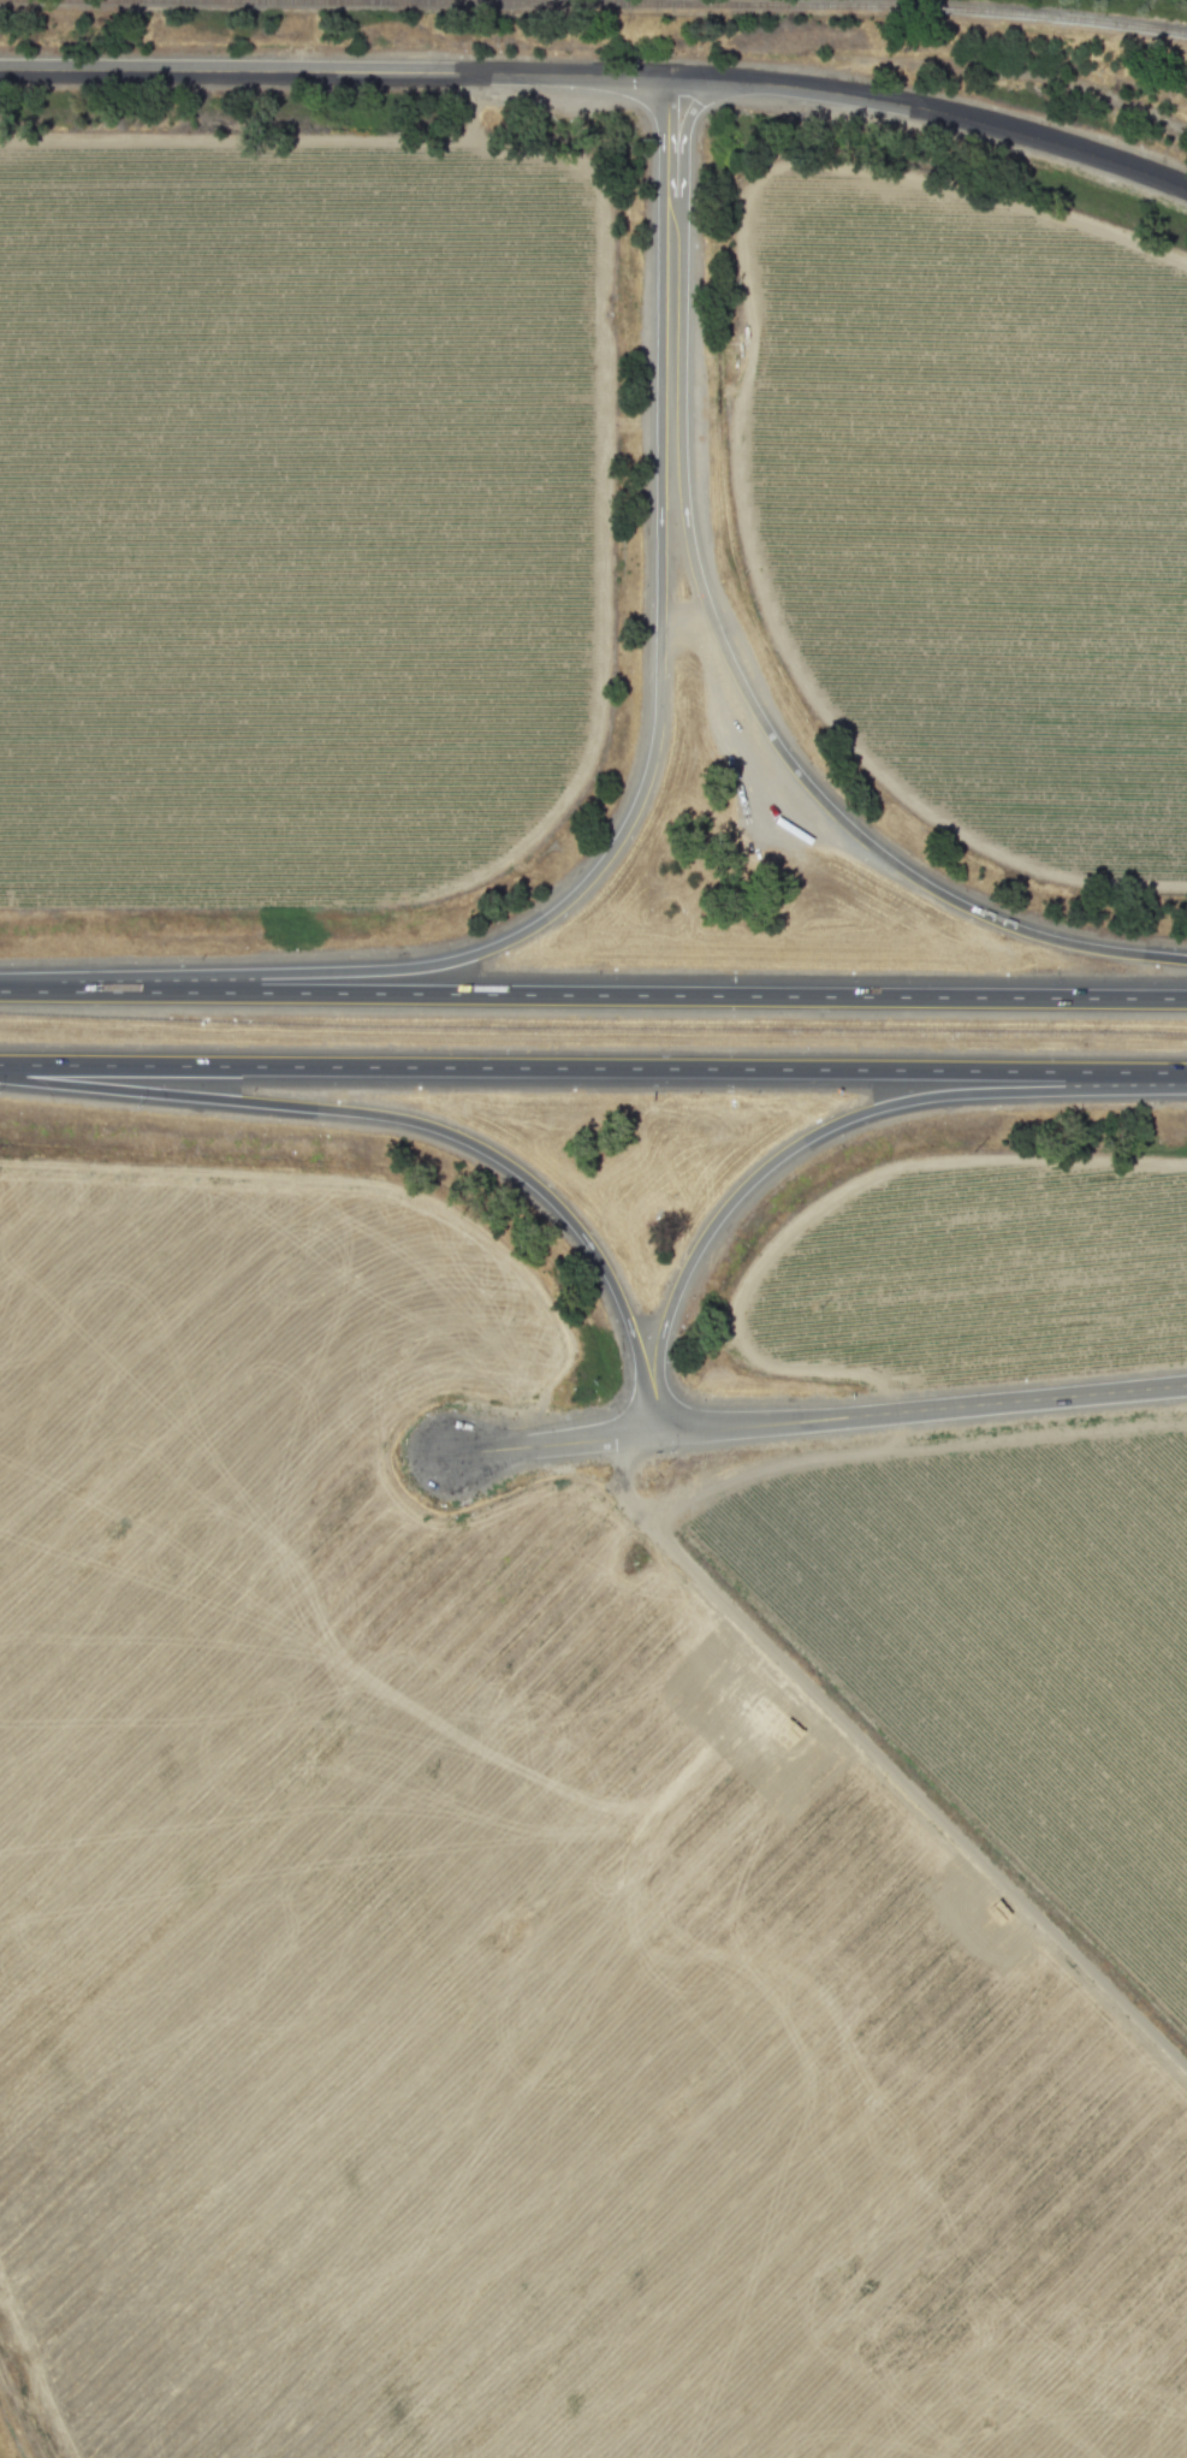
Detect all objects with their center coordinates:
railway: (611, 4)
road: (332, 72)
road: (931, 109)
crop: (972, 503)
crop: (289, 515)
road: (725, 656)
road: (647, 769)
road: (593, 996)
road: (586, 1071)
road: (1180, 1076)
road: (415, 1125)
road: (817, 1135)
crop: (969, 1271)
road: (921, 1411)
road: (552, 1445)
road: (883, 1764)
crop: (560, 1891)

